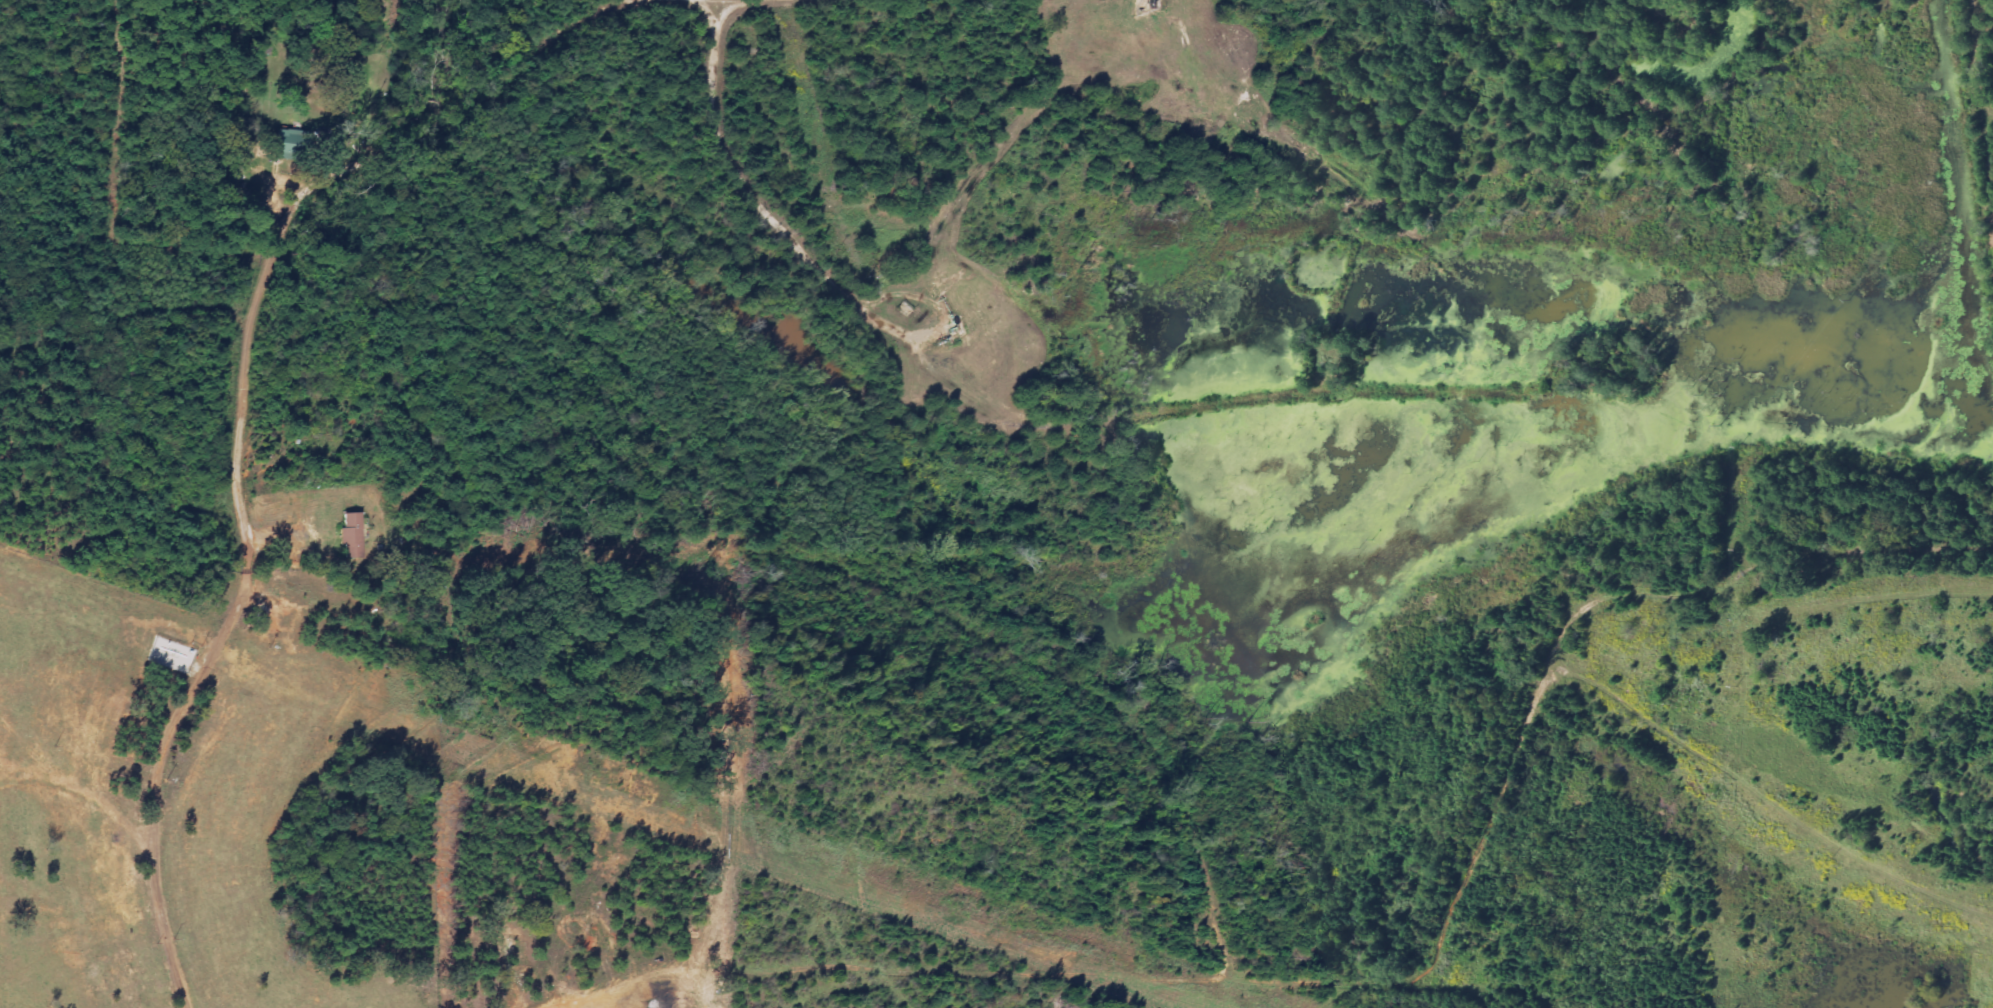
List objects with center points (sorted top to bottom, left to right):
building: (293, 147)
road: (124, 316)
road: (246, 344)
building: (354, 538)

